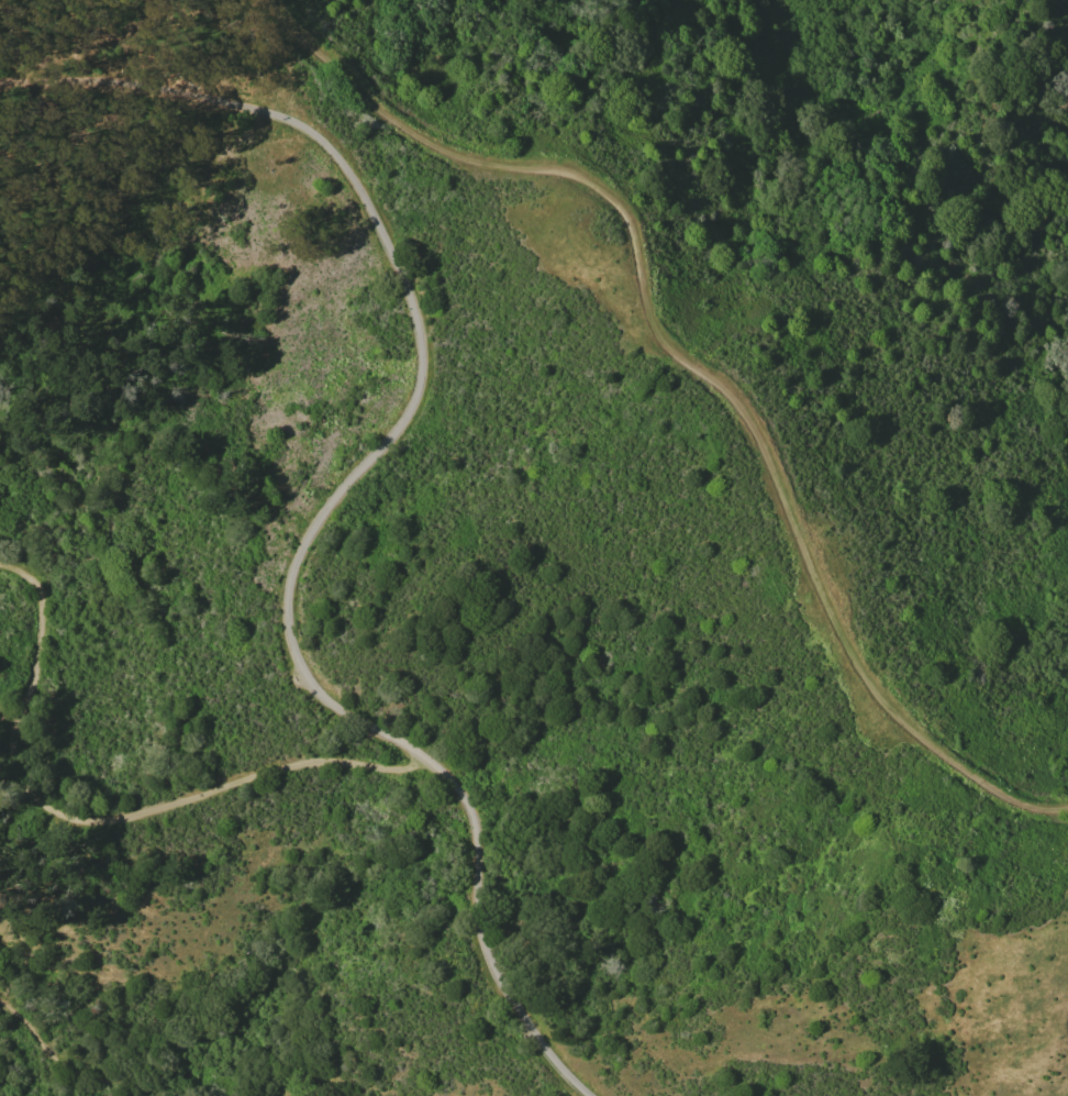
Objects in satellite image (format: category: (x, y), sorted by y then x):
road: (714, 384)
road: (341, 489)
road: (12, 710)
road: (101, 818)
road: (89, 1074)

